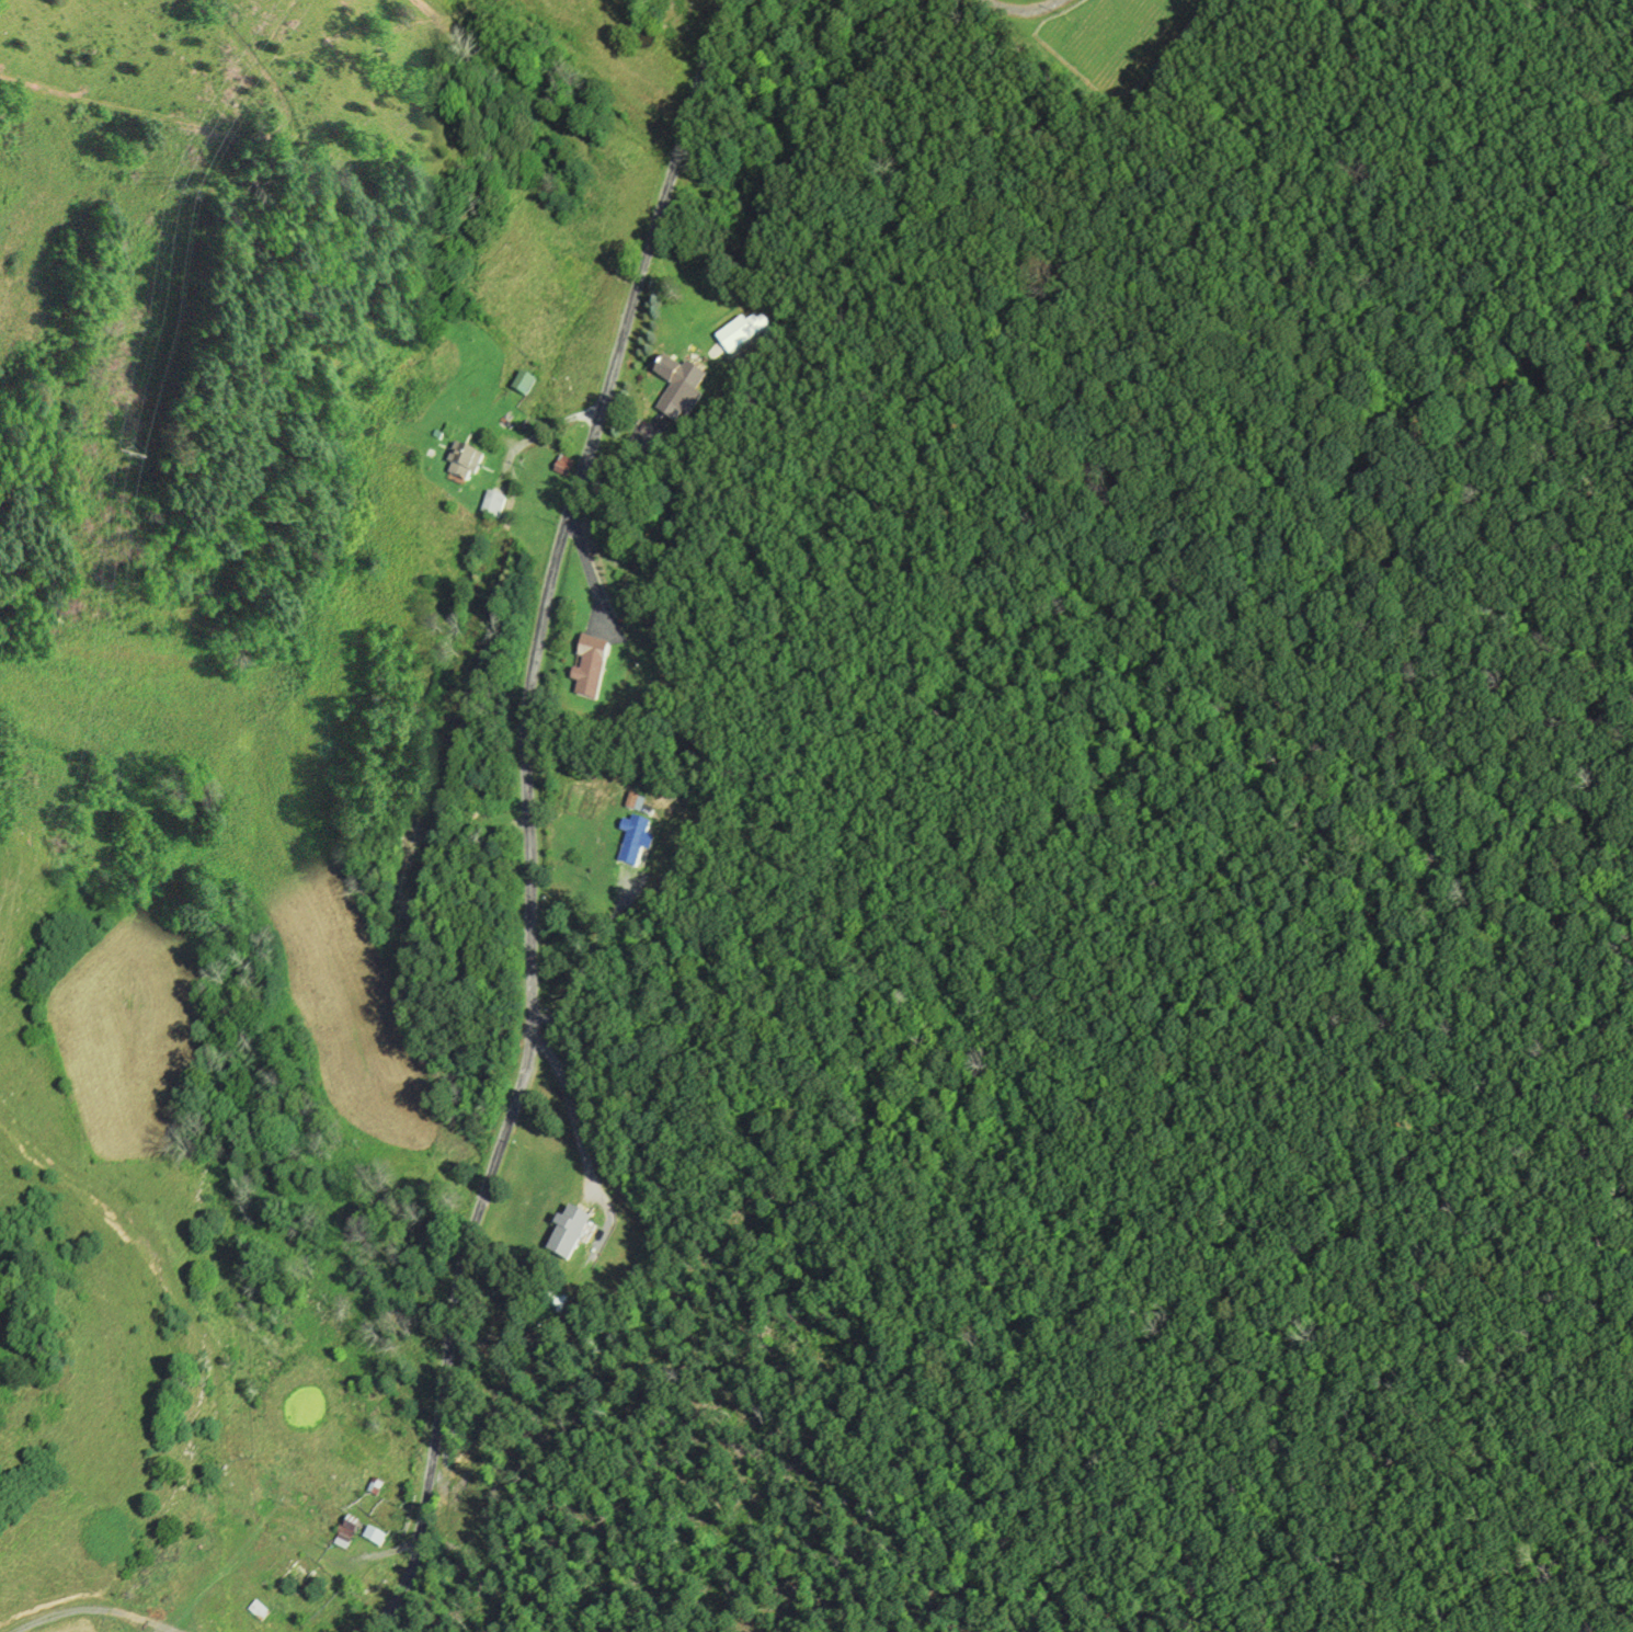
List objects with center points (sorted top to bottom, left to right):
road: (1023, 10)
building: (735, 338)
building: (523, 386)
building: (681, 392)
building: (464, 463)
building: (493, 505)
road: (590, 570)
building: (591, 669)
road: (526, 811)
building: (635, 843)
road: (586, 967)
road: (571, 1110)
building: (569, 1236)
building: (556, 1304)
building: (298, 1580)
road: (88, 1611)

